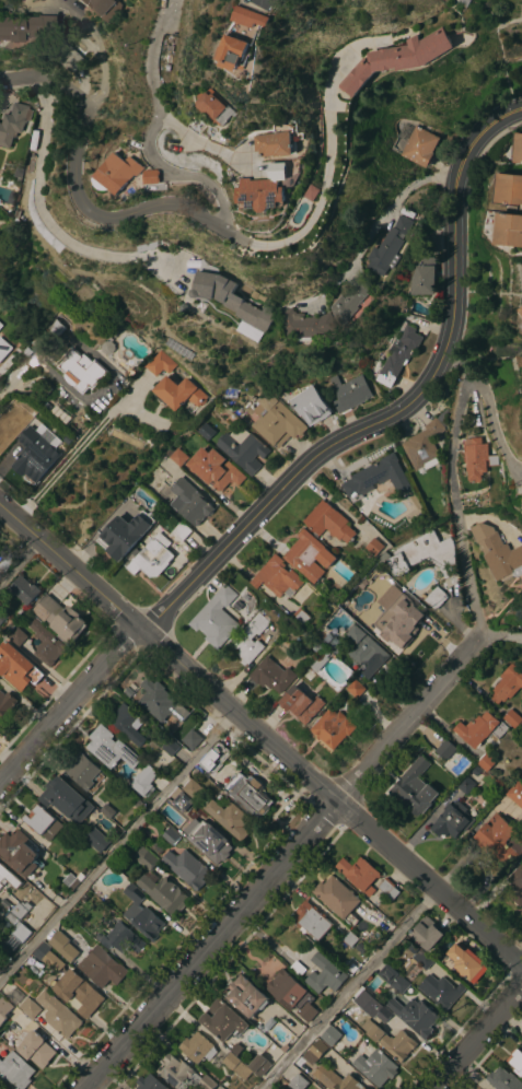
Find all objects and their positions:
road: (256, 1)
building: (102, 8)
building: (257, 17)
road: (88, 25)
building: (26, 26)
building: (240, 52)
building: (68, 57)
building: (397, 59)
building: (220, 107)
building: (12, 124)
road: (151, 129)
road: (206, 144)
building: (279, 144)
building: (419, 147)
building: (517, 149)
road: (332, 162)
building: (119, 174)
building: (155, 177)
road: (81, 189)
building: (508, 190)
building: (268, 191)
building: (315, 192)
road: (39, 203)
road: (383, 210)
building: (509, 230)
building: (427, 245)
building: (388, 247)
building: (422, 278)
building: (352, 297)
building: (231, 300)
building: (521, 312)
building: (306, 325)
building: (0, 326)
building: (521, 326)
building: (48, 332)
building: (3, 349)
building: (398, 355)
building: (159, 364)
building: (81, 372)
road: (21, 373)
building: (178, 393)
building: (349, 393)
road: (488, 405)
building: (311, 406)
road: (401, 410)
building: (276, 421)
building: (206, 432)
building: (424, 446)
building: (242, 449)
road: (81, 450)
building: (35, 454)
building: (177, 457)
building: (477, 458)
building: (214, 469)
building: (376, 478)
building: (189, 502)
building: (521, 504)
road: (460, 507)
building: (328, 522)
building: (182, 530)
building: (125, 535)
building: (373, 547)
building: (419, 553)
building: (152, 557)
building: (309, 557)
building: (502, 557)
road: (20, 566)
building: (277, 577)
building: (23, 590)
building: (434, 598)
building: (356, 609)
building: (399, 613)
building: (2, 617)
building: (300, 617)
building: (217, 618)
building: (60, 619)
road: (504, 634)
building: (18, 636)
building: (250, 640)
building: (332, 641)
building: (46, 644)
building: (366, 652)
building: (318, 660)
building: (18, 667)
building: (271, 676)
building: (507, 684)
building: (356, 689)
building: (160, 702)
building: (5, 703)
building: (300, 704)
road: (68, 707)
building: (512, 718)
building: (128, 724)
building: (333, 728)
building: (476, 729)
road: (260, 737)
building: (192, 739)
building: (169, 746)
building: (109, 748)
building: (445, 750)
building: (486, 762)
building: (209, 768)
building: (82, 771)
building: (142, 780)
building: (465, 785)
building: (413, 787)
building: (192, 788)
building: (515, 794)
building: (248, 795)
building: (63, 799)
building: (179, 801)
building: (107, 811)
building: (197, 816)
building: (229, 818)
building: (452, 820)
building: (42, 822)
building: (170, 835)
building: (94, 840)
building: (499, 840)
road: (117, 847)
building: (218, 848)
building: (18, 852)
road: (282, 864)
building: (186, 868)
building: (359, 874)
building: (8, 878)
building: (517, 885)
building: (159, 886)
building: (387, 888)
building: (134, 893)
building: (337, 899)
building: (20, 910)
building: (143, 921)
building: (311, 921)
building: (21, 933)
building: (427, 934)
building: (120, 938)
building: (349, 938)
building: (62, 946)
building: (1, 955)
building: (47, 957)
building: (421, 959)
building: (466, 963)
building: (102, 968)
building: (324, 974)
building: (393, 979)
road: (346, 988)
building: (372, 988)
building: (440, 991)
building: (79, 993)
building: (292, 995)
building: (246, 996)
building: (28, 1008)
building: (3, 1009)
building: (57, 1014)
building: (382, 1016)
building: (415, 1016)
building: (223, 1020)
building: (330, 1035)
road: (479, 1040)
building: (390, 1041)
building: (197, 1047)
building: (35, 1050)
building: (314, 1052)
building: (266, 1055)
building: (515, 1062)
building: (259, 1065)
building: (236, 1066)
building: (375, 1067)
building: (15, 1069)
building: (182, 1074)
building: (337, 1080)
building: (502, 1080)
building: (149, 1082)
building: (298, 1082)

